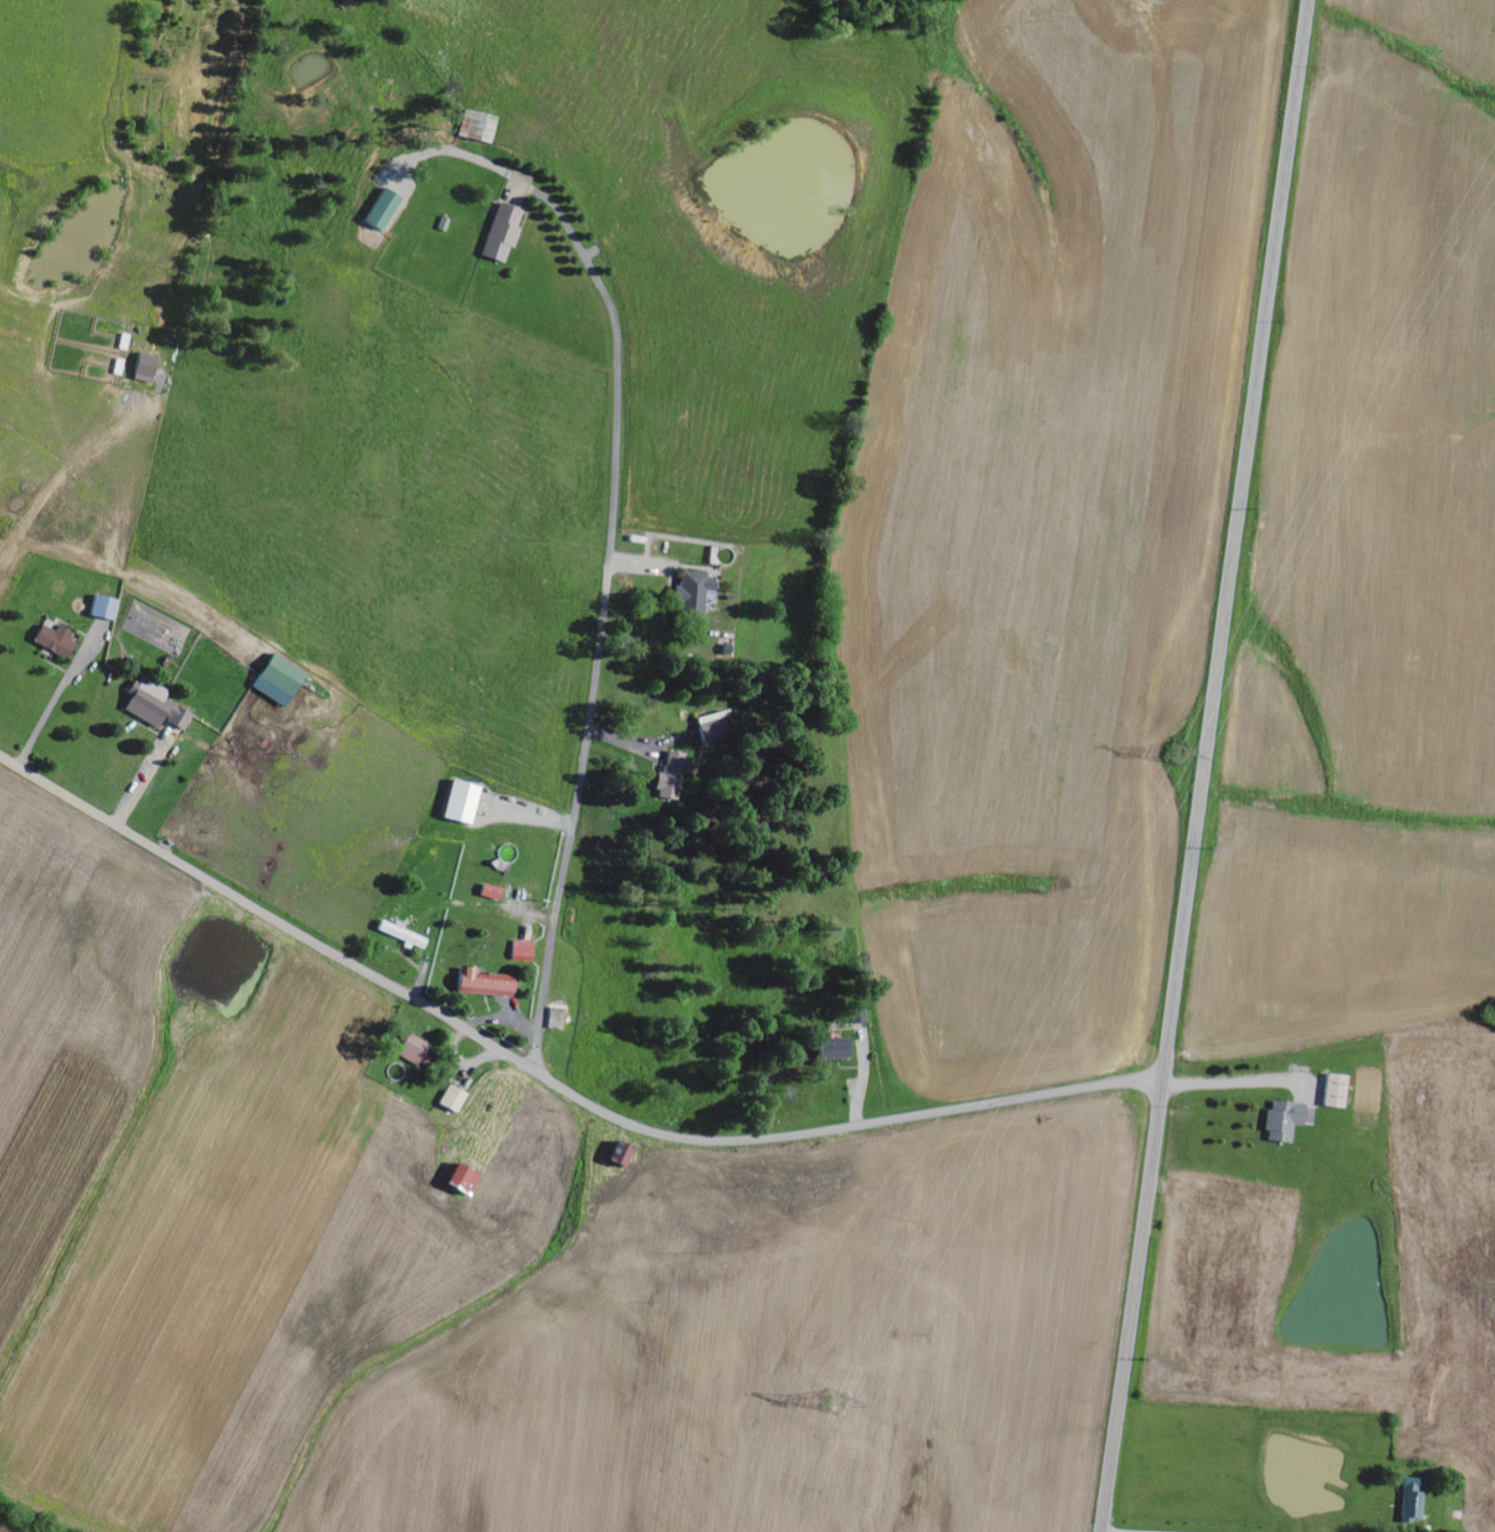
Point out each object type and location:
building: (480, 126)
building: (386, 209)
building: (504, 233)
building: (694, 591)
building: (106, 608)
building: (58, 640)
road: (600, 641)
building: (281, 681)
building: (157, 706)
building: (715, 733)
power tower: (1174, 755)
road: (1205, 765)
building: (673, 775)
building: (464, 802)
building: (493, 893)
building: (404, 935)
building: (524, 951)
building: (489, 984)
building: (557, 1019)
building: (415, 1050)
building: (837, 1050)
road: (547, 1077)
road: (1232, 1090)
building: (1338, 1092)
building: (454, 1100)
building: (1289, 1121)
building: (623, 1155)
building: (465, 1180)
power tower: (835, 1402)
building: (1413, 1499)
road: (1115, 1531)

